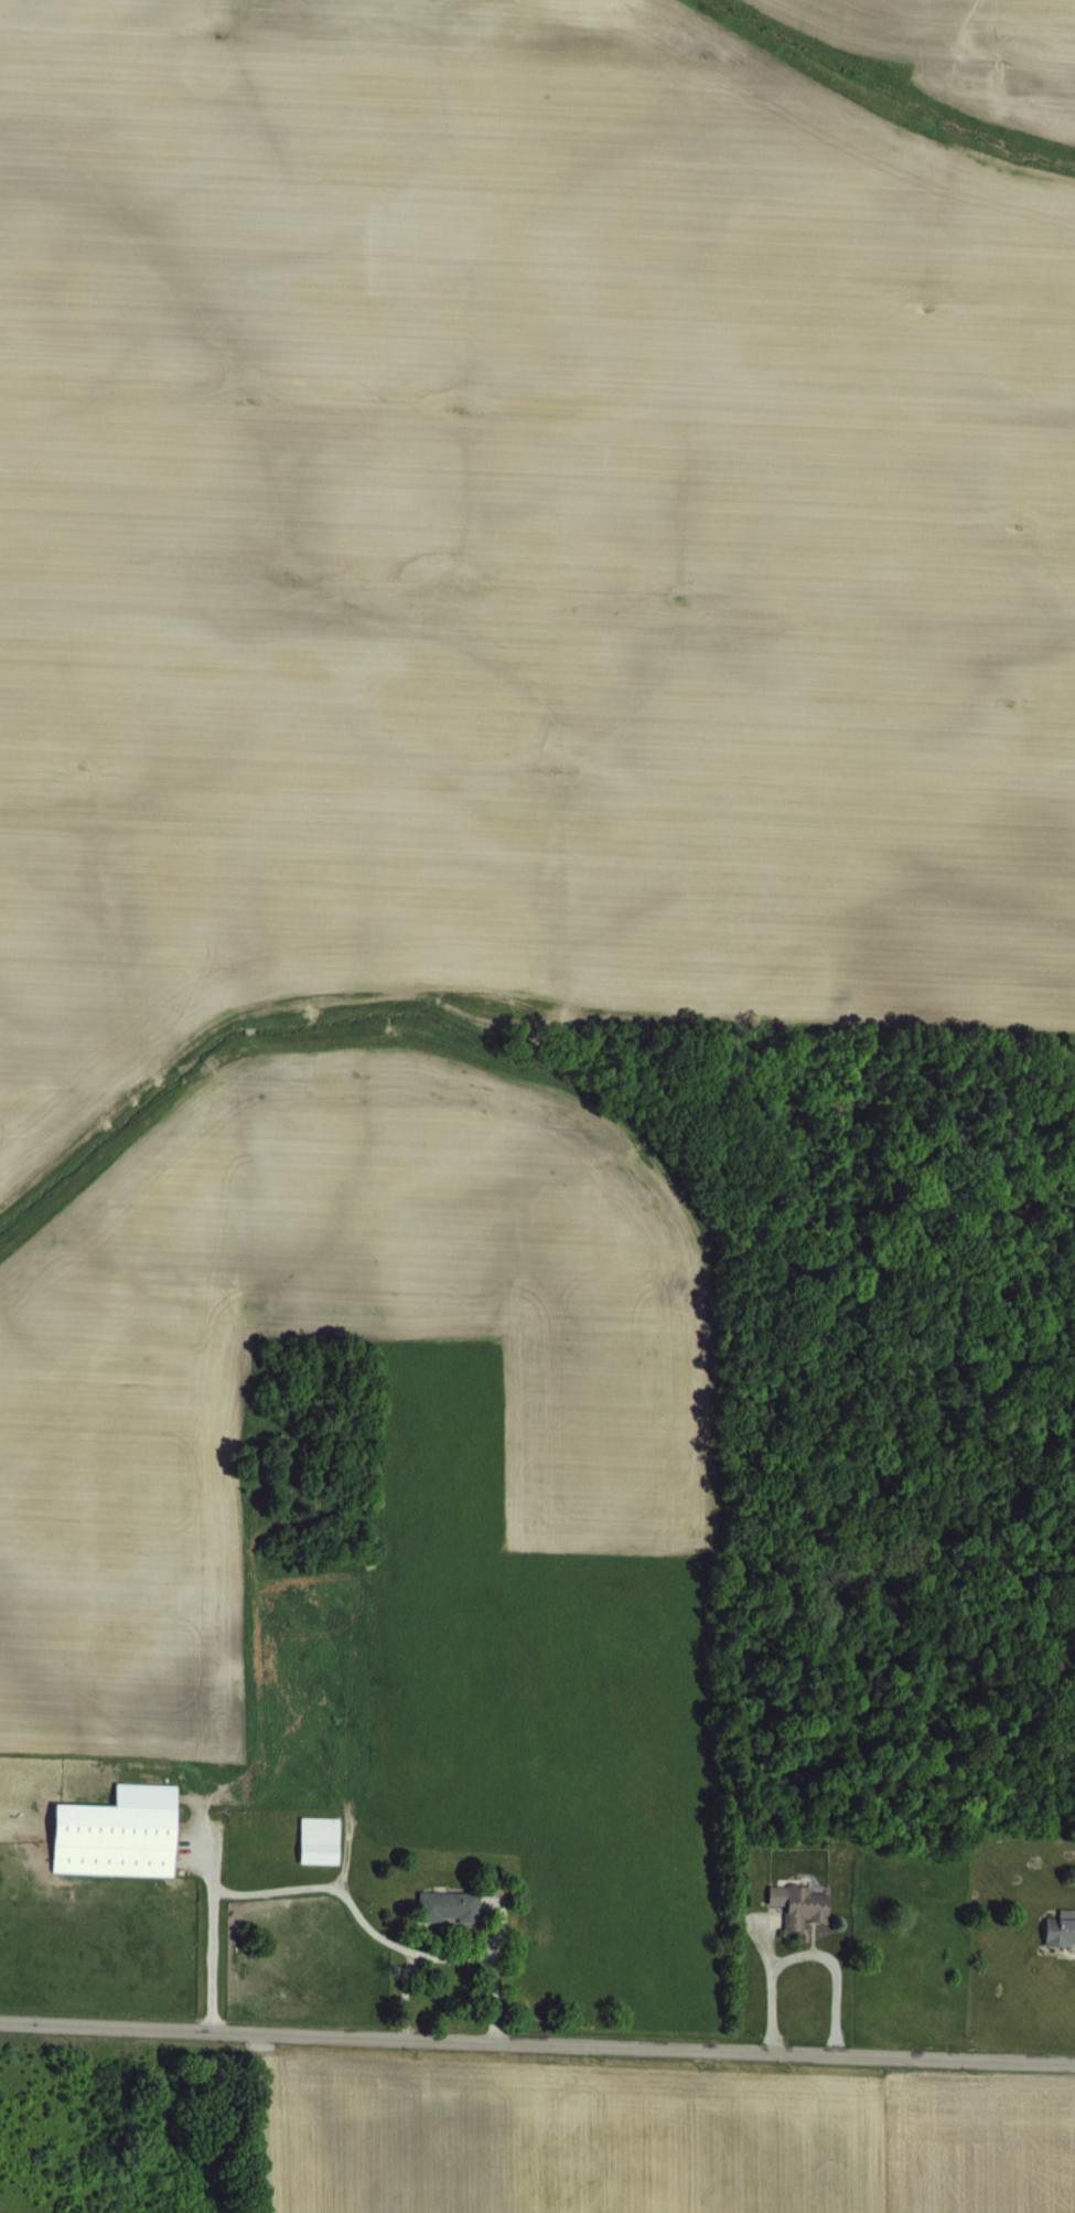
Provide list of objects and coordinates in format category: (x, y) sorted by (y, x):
building: (121, 1852)
building: (323, 1859)
road: (295, 1885)
building: (802, 1923)
building: (452, 1925)
building: (1062, 1947)
road: (485, 1961)
road: (835, 1981)
road: (774, 1995)
road: (537, 2039)

